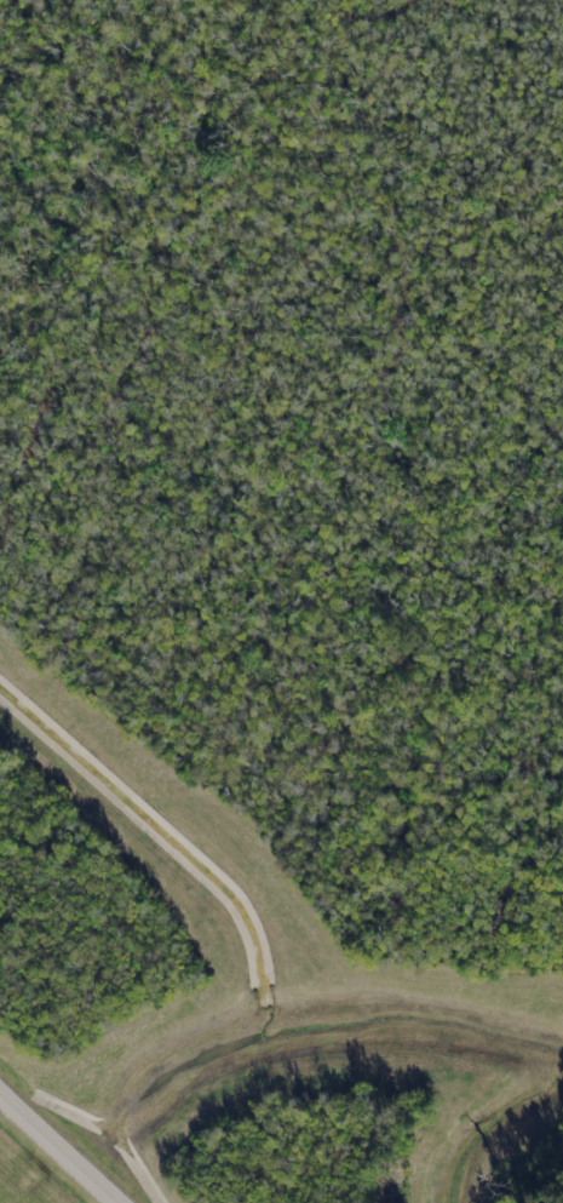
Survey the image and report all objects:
road: (54, 1152)

